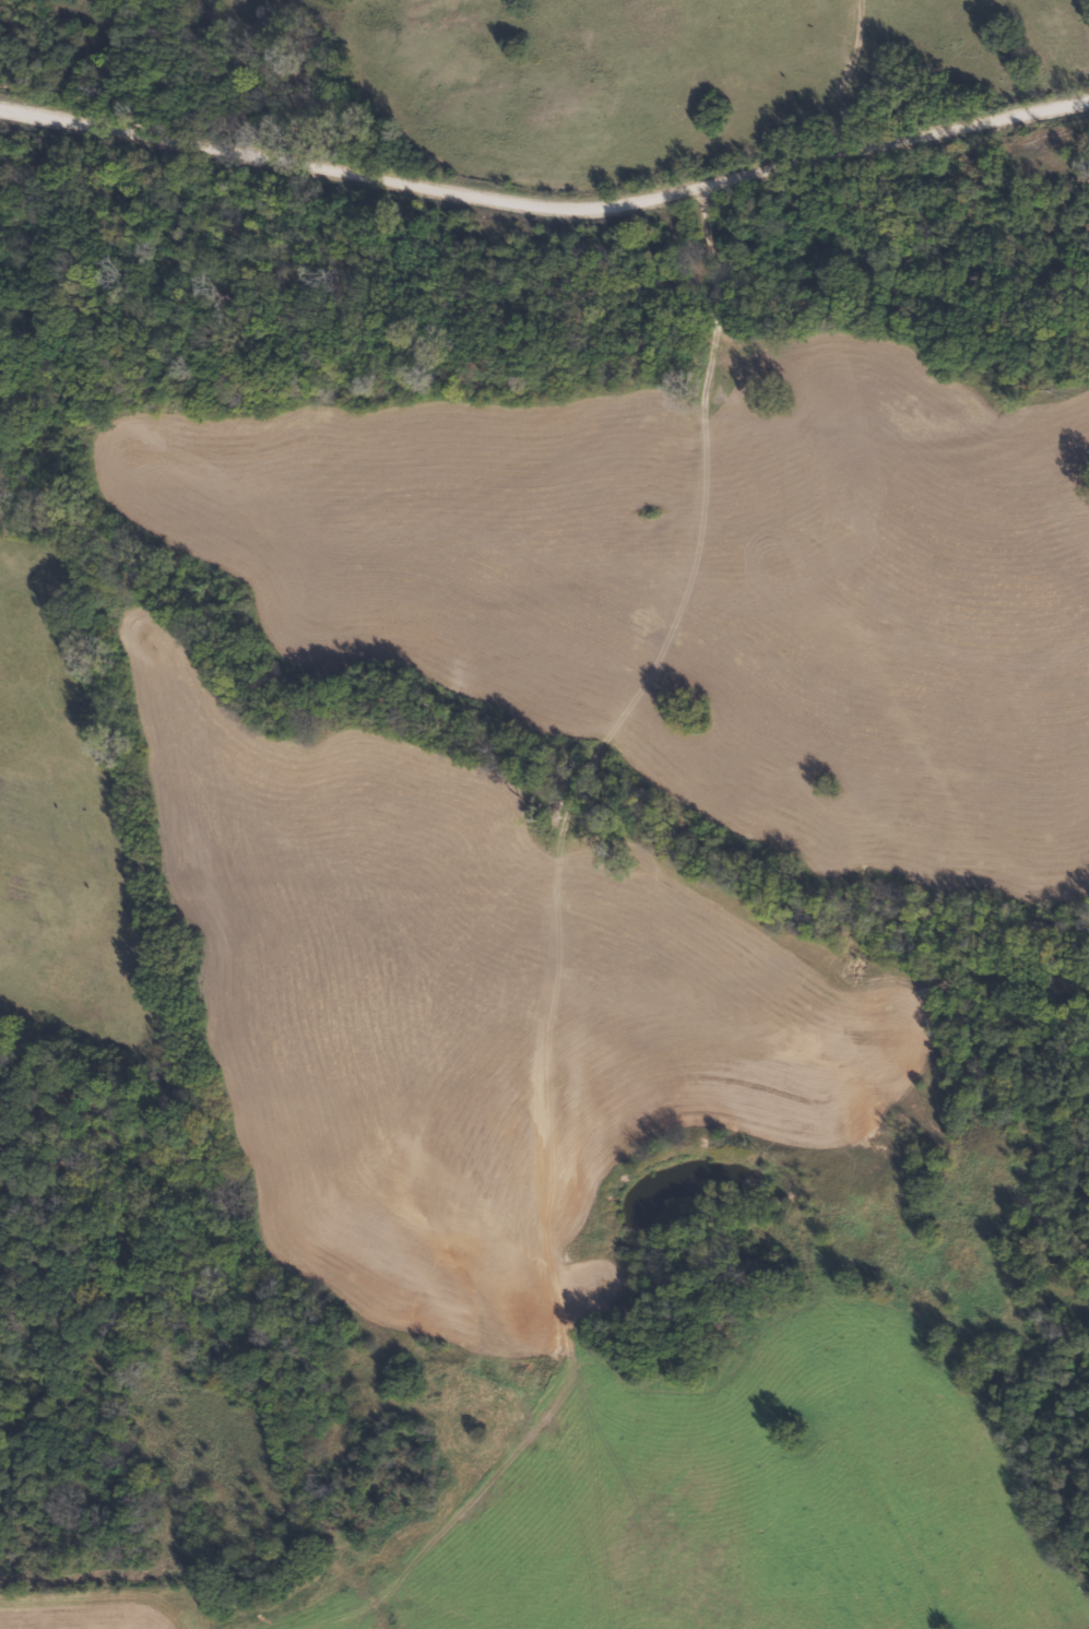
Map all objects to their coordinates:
road: (363, 13)
road: (981, 105)
railway: (543, 292)

